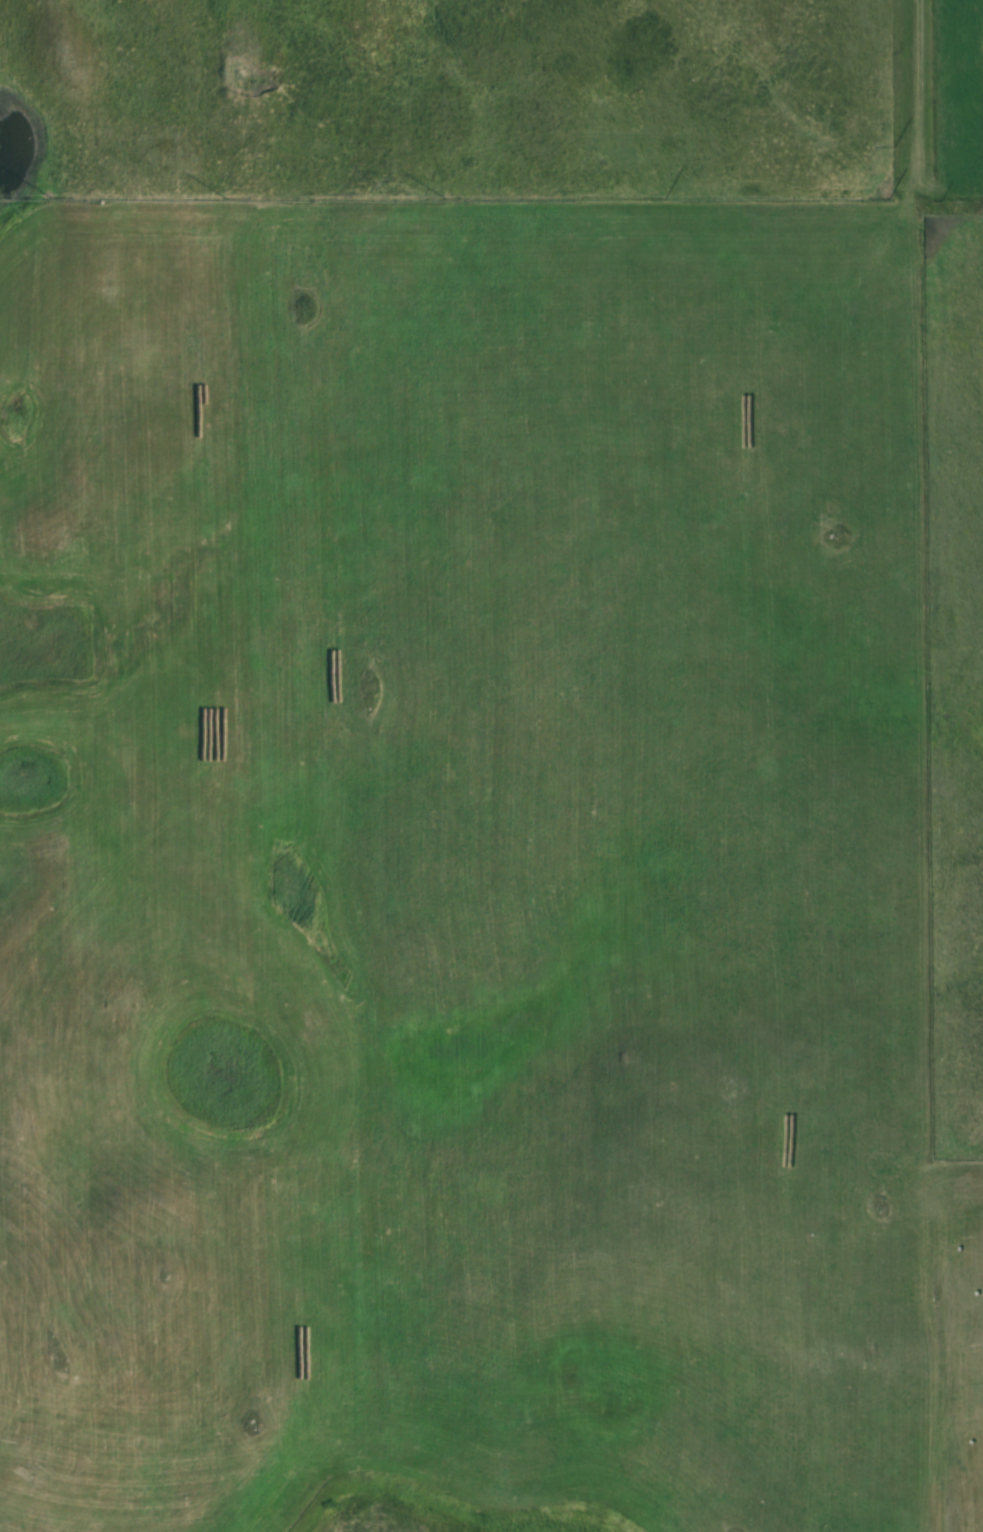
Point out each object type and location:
road: (961, 765)

